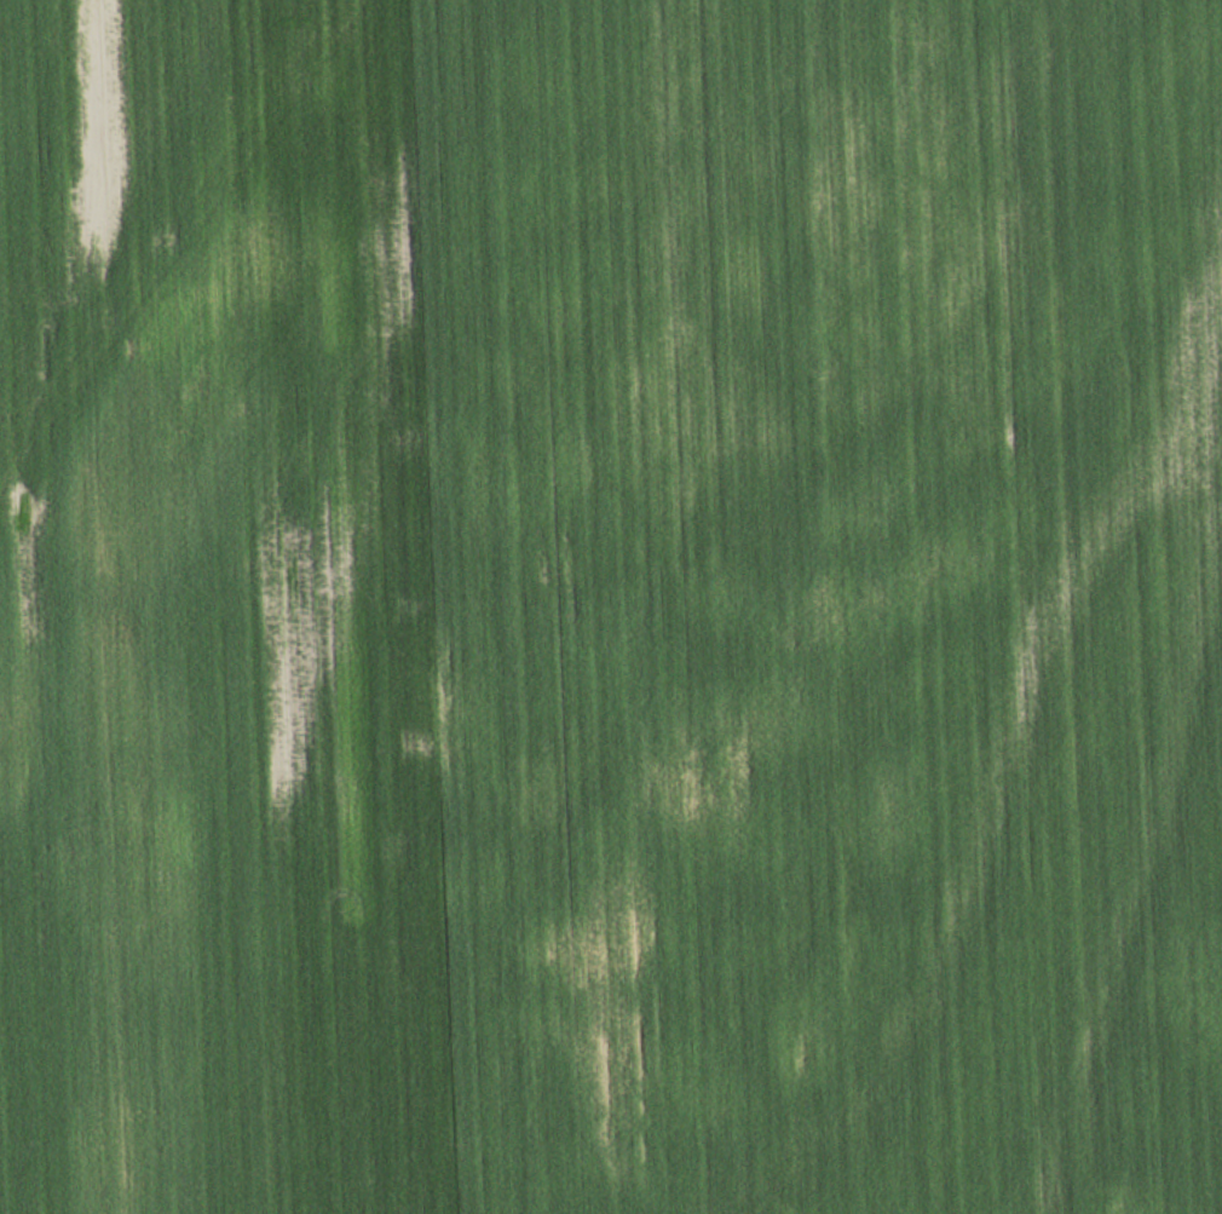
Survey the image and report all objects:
crop: (611, 606)

